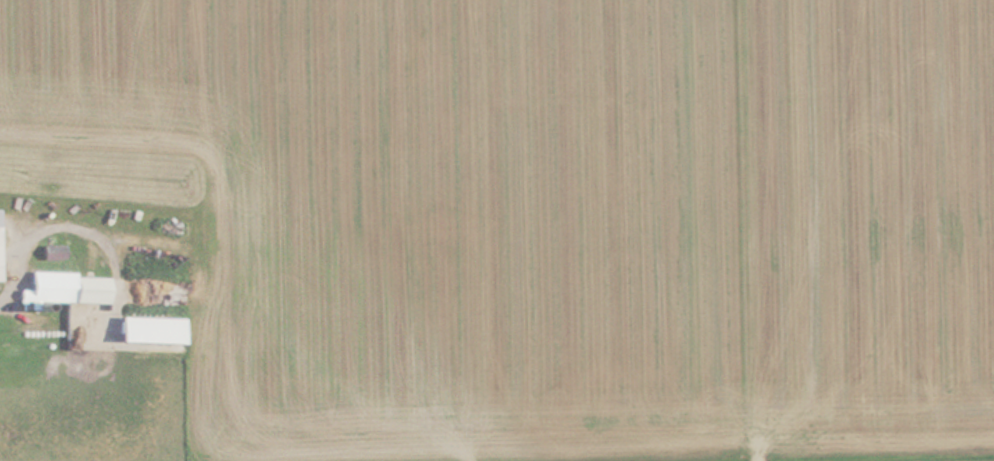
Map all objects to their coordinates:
building: (54, 251)
building: (67, 288)
building: (151, 329)

